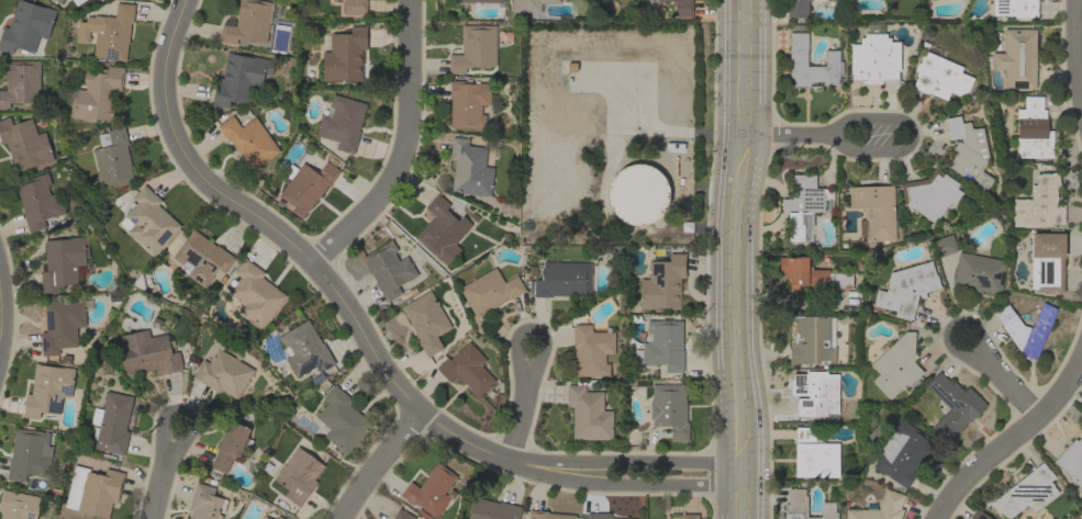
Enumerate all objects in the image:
building: (52, 0)
building: (923, 0)
building: (57, 1)
building: (77, 1)
building: (480, 1)
building: (528, 4)
building: (354, 7)
building: (681, 8)
building: (796, 8)
building: (1015, 8)
building: (247, 22)
building: (25, 26)
building: (112, 33)
road: (1078, 47)
building: (473, 48)
building: (343, 53)
building: (797, 55)
building: (874, 57)
building: (1016, 58)
building: (939, 77)
building: (239, 78)
building: (20, 82)
building: (96, 93)
building: (468, 103)
building: (342, 122)
building: (1033, 129)
road: (791, 135)
road: (913, 135)
building: (248, 139)
building: (24, 144)
road: (395, 145)
building: (968, 151)
building: (112, 158)
building: (469, 168)
building: (306, 187)
building: (636, 193)
storage tank: (636, 193)
building: (930, 194)
building: (37, 201)
building: (1039, 203)
building: (802, 204)
building: (874, 211)
building: (147, 221)
building: (442, 230)
building: (944, 245)
building: (201, 257)
road: (743, 259)
building: (63, 261)
building: (1047, 261)
building: (388, 269)
building: (978, 273)
building: (811, 274)
building: (561, 280)
building: (662, 282)
building: (906, 289)
building: (489, 291)
building: (255, 293)
road: (3, 295)
building: (426, 321)
building: (60, 325)
building: (1026, 328)
building: (811, 340)
road: (364, 341)
building: (661, 345)
building: (304, 349)
building: (591, 350)
building: (148, 352)
building: (895, 365)
building: (467, 369)
building: (223, 373)
road: (1003, 379)
building: (47, 390)
building: (817, 394)
road: (525, 405)
building: (953, 405)
building: (669, 409)
building: (588, 414)
building: (341, 420)
building: (111, 424)
building: (804, 433)
road: (1012, 441)
building: (230, 445)
building: (902, 453)
building: (29, 454)
building: (816, 459)
building: (1071, 461)
road: (378, 469)
road: (161, 474)
building: (298, 474)
building: (430, 490)
building: (1025, 492)
building: (99, 493)
building: (205, 503)
building: (18, 505)
building: (805, 506)
building: (880, 508)
building: (490, 509)
building: (402, 515)
building: (547, 515)
building: (978, 515)
building: (602, 516)
building: (689, 516)
building: (264, 517)
building: (278, 517)

